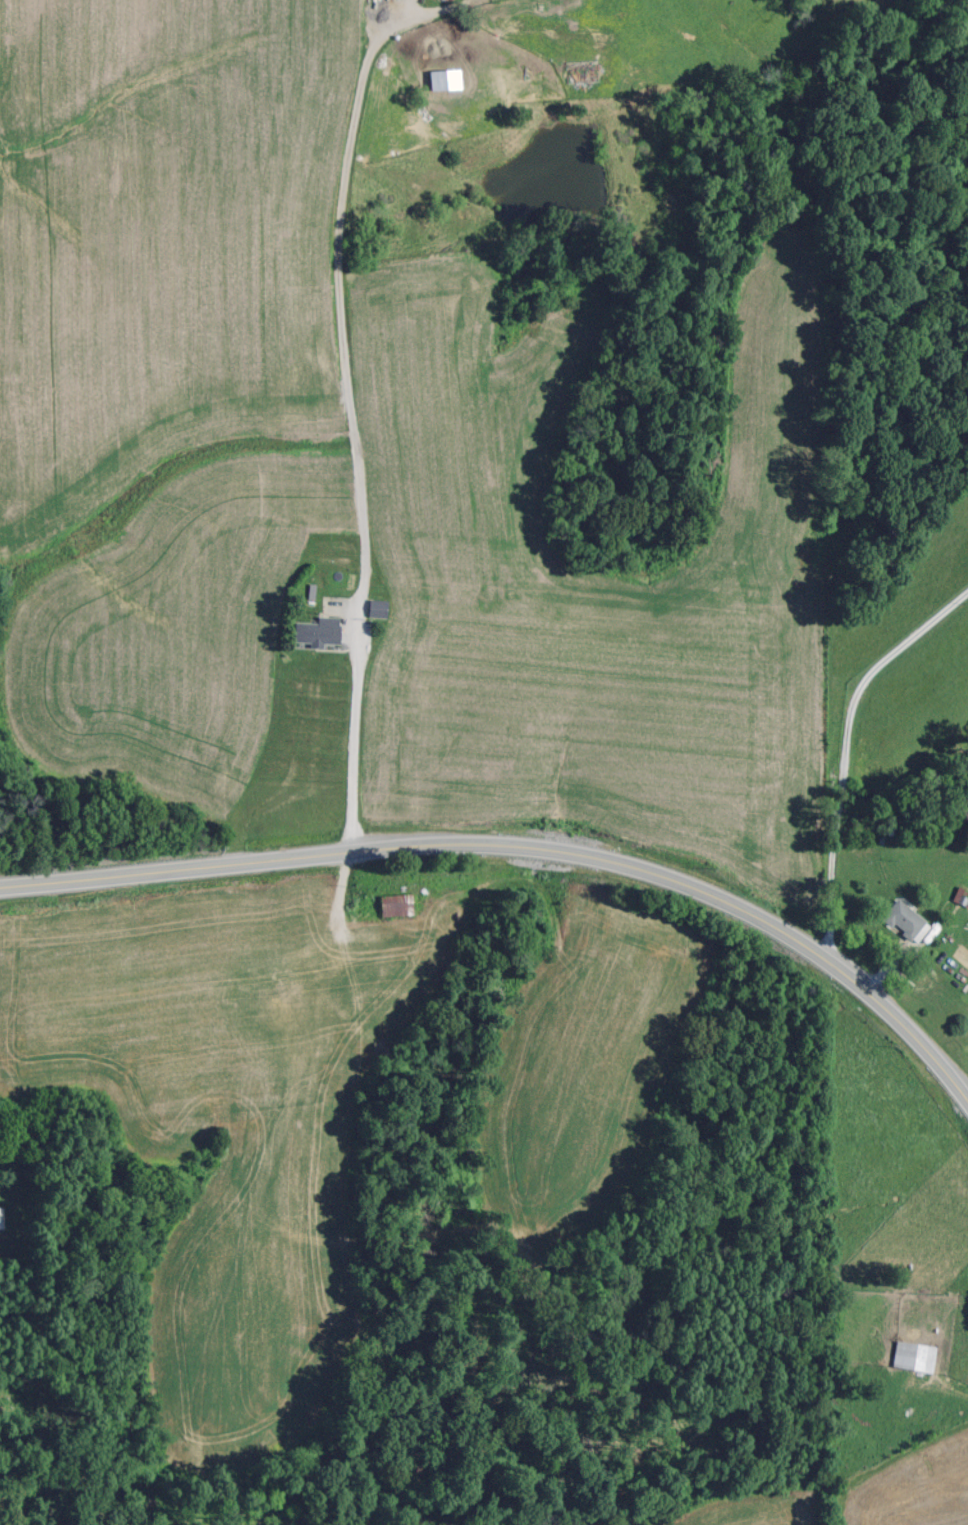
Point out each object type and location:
building: (578, 69)
building: (440, 77)
road: (352, 423)
building: (375, 607)
building: (314, 630)
road: (846, 749)
road: (522, 843)
building: (391, 903)
building: (903, 920)
building: (912, 1356)

